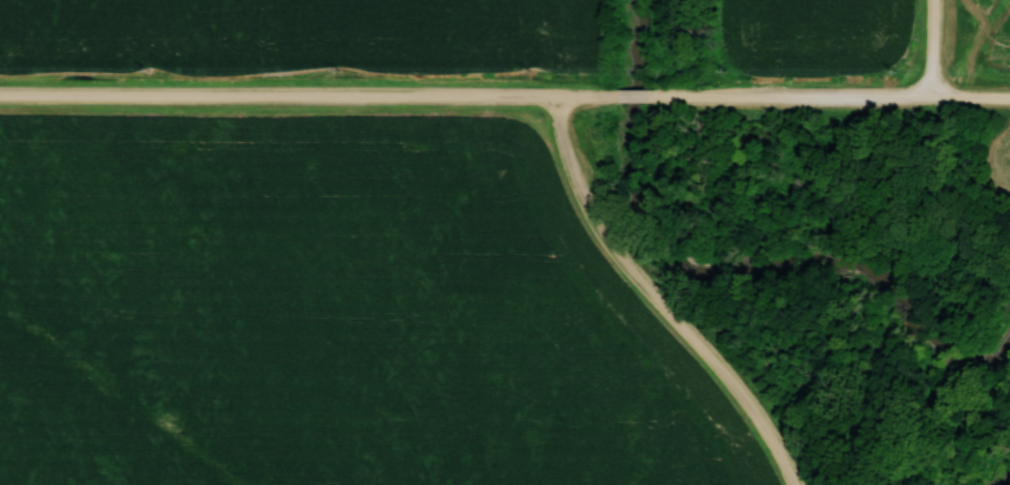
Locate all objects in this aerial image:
road: (935, 49)
road: (467, 96)
road: (972, 98)
road: (663, 299)

